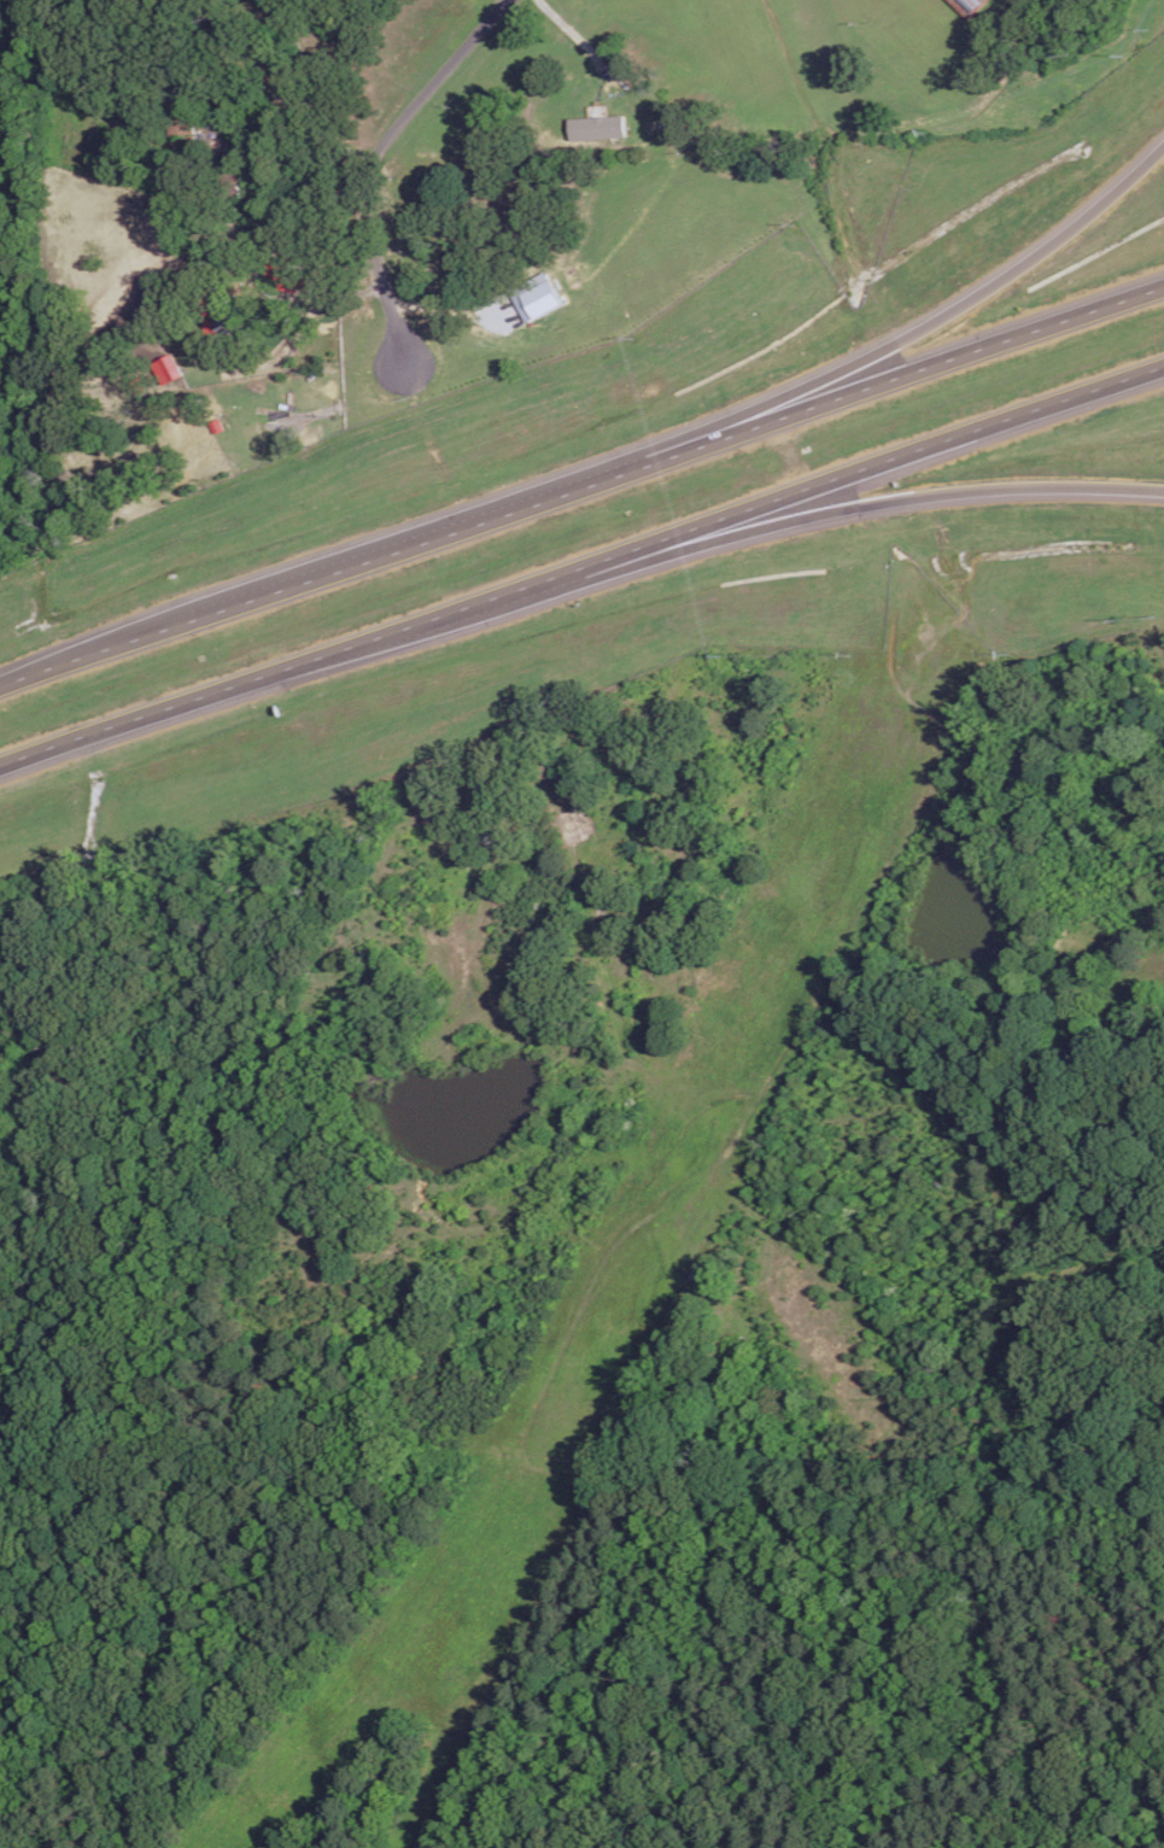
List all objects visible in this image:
building: (966, 6)
road: (572, 36)
building: (596, 125)
road: (385, 185)
road: (972, 288)
building: (536, 296)
building: (168, 368)
road: (581, 478)
road: (913, 499)
road: (583, 561)

